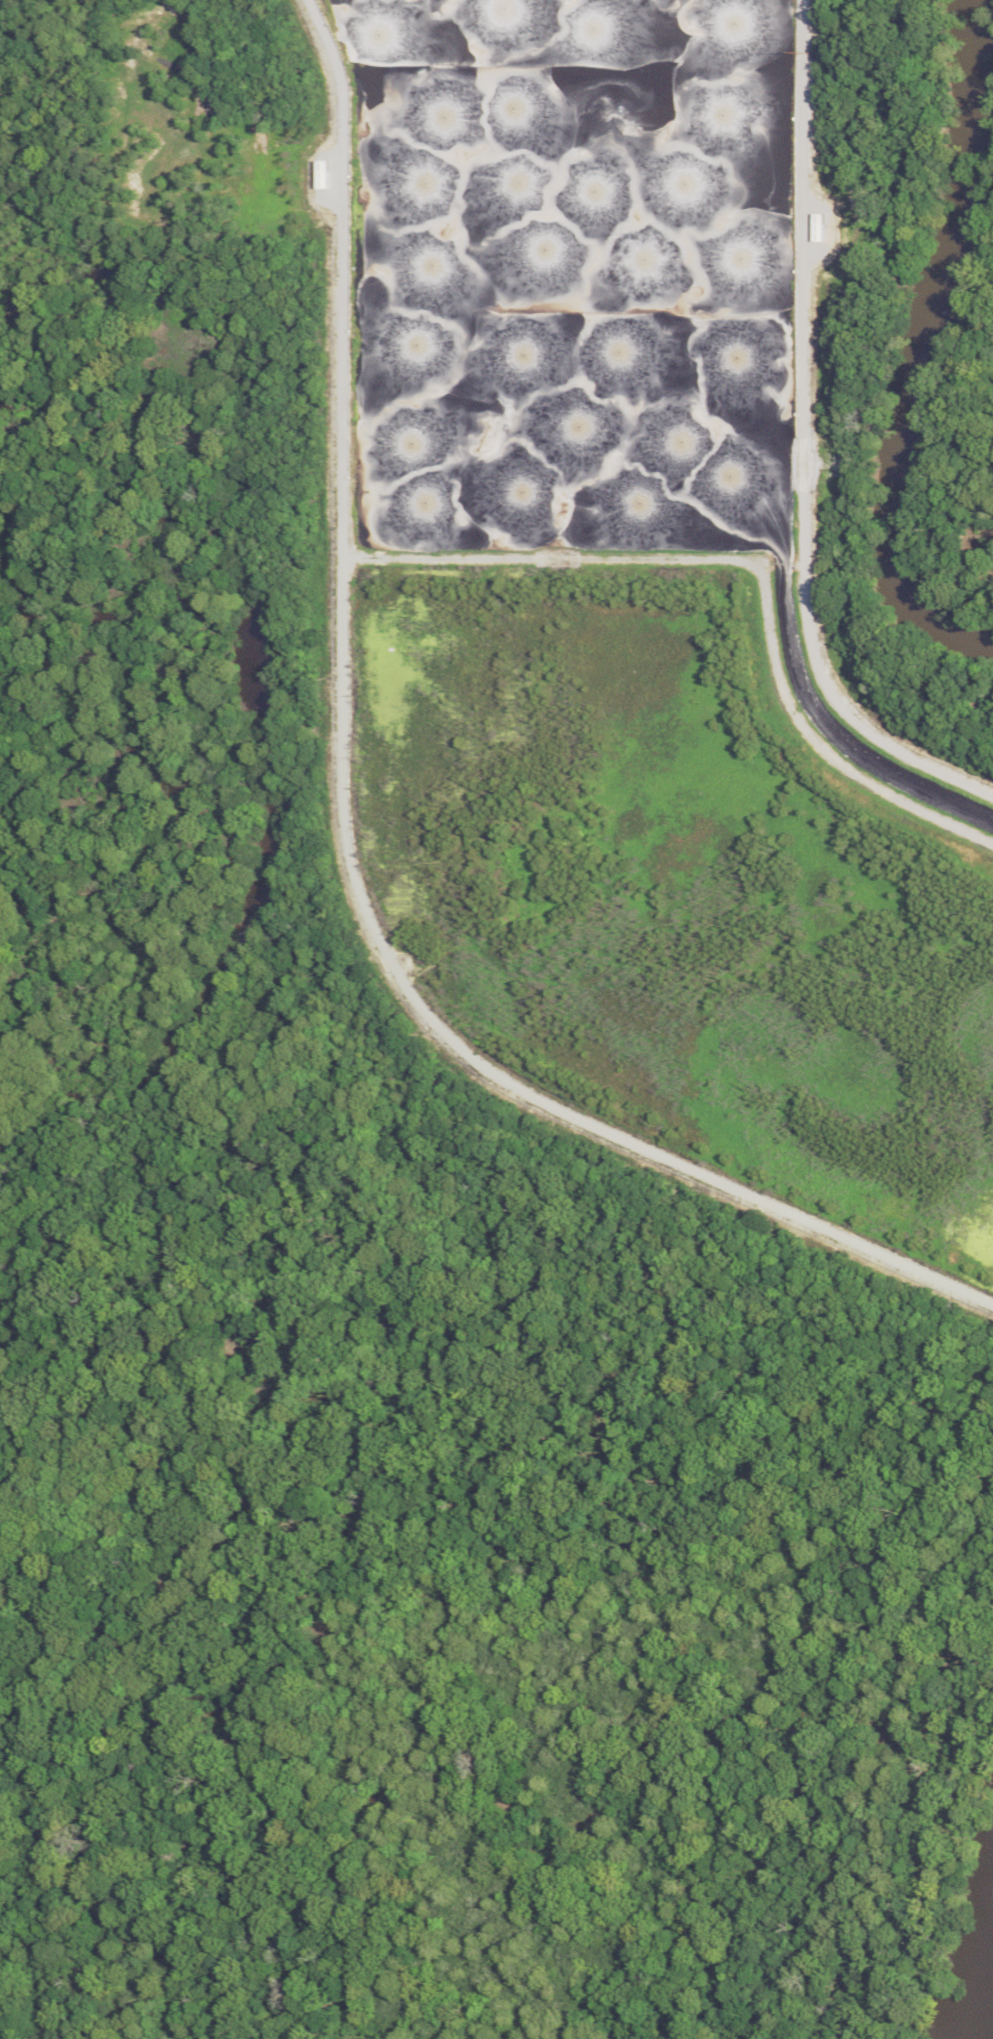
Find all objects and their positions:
river: (902, 343)
road: (795, 454)
road: (343, 844)

